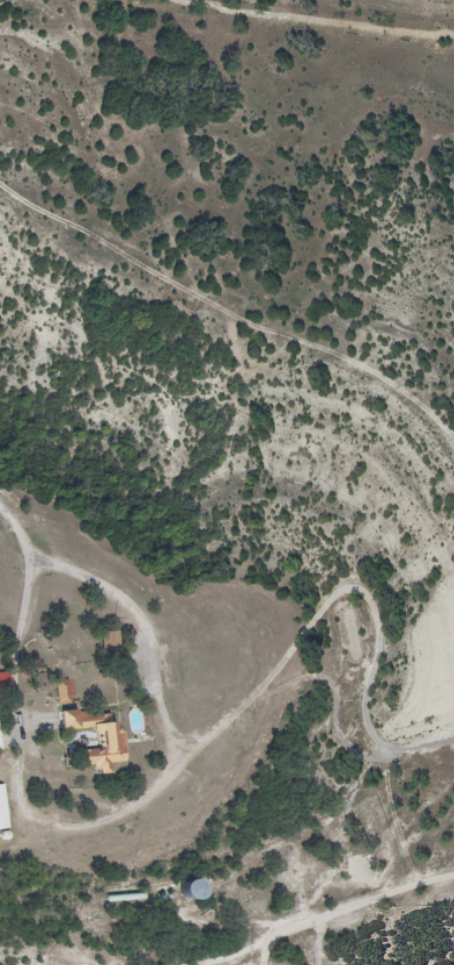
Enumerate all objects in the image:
road: (125, 606)
building: (108, 641)
building: (61, 693)
building: (109, 740)
road: (424, 745)
building: (2, 809)
road: (83, 832)
road: (431, 883)
building: (186, 890)

